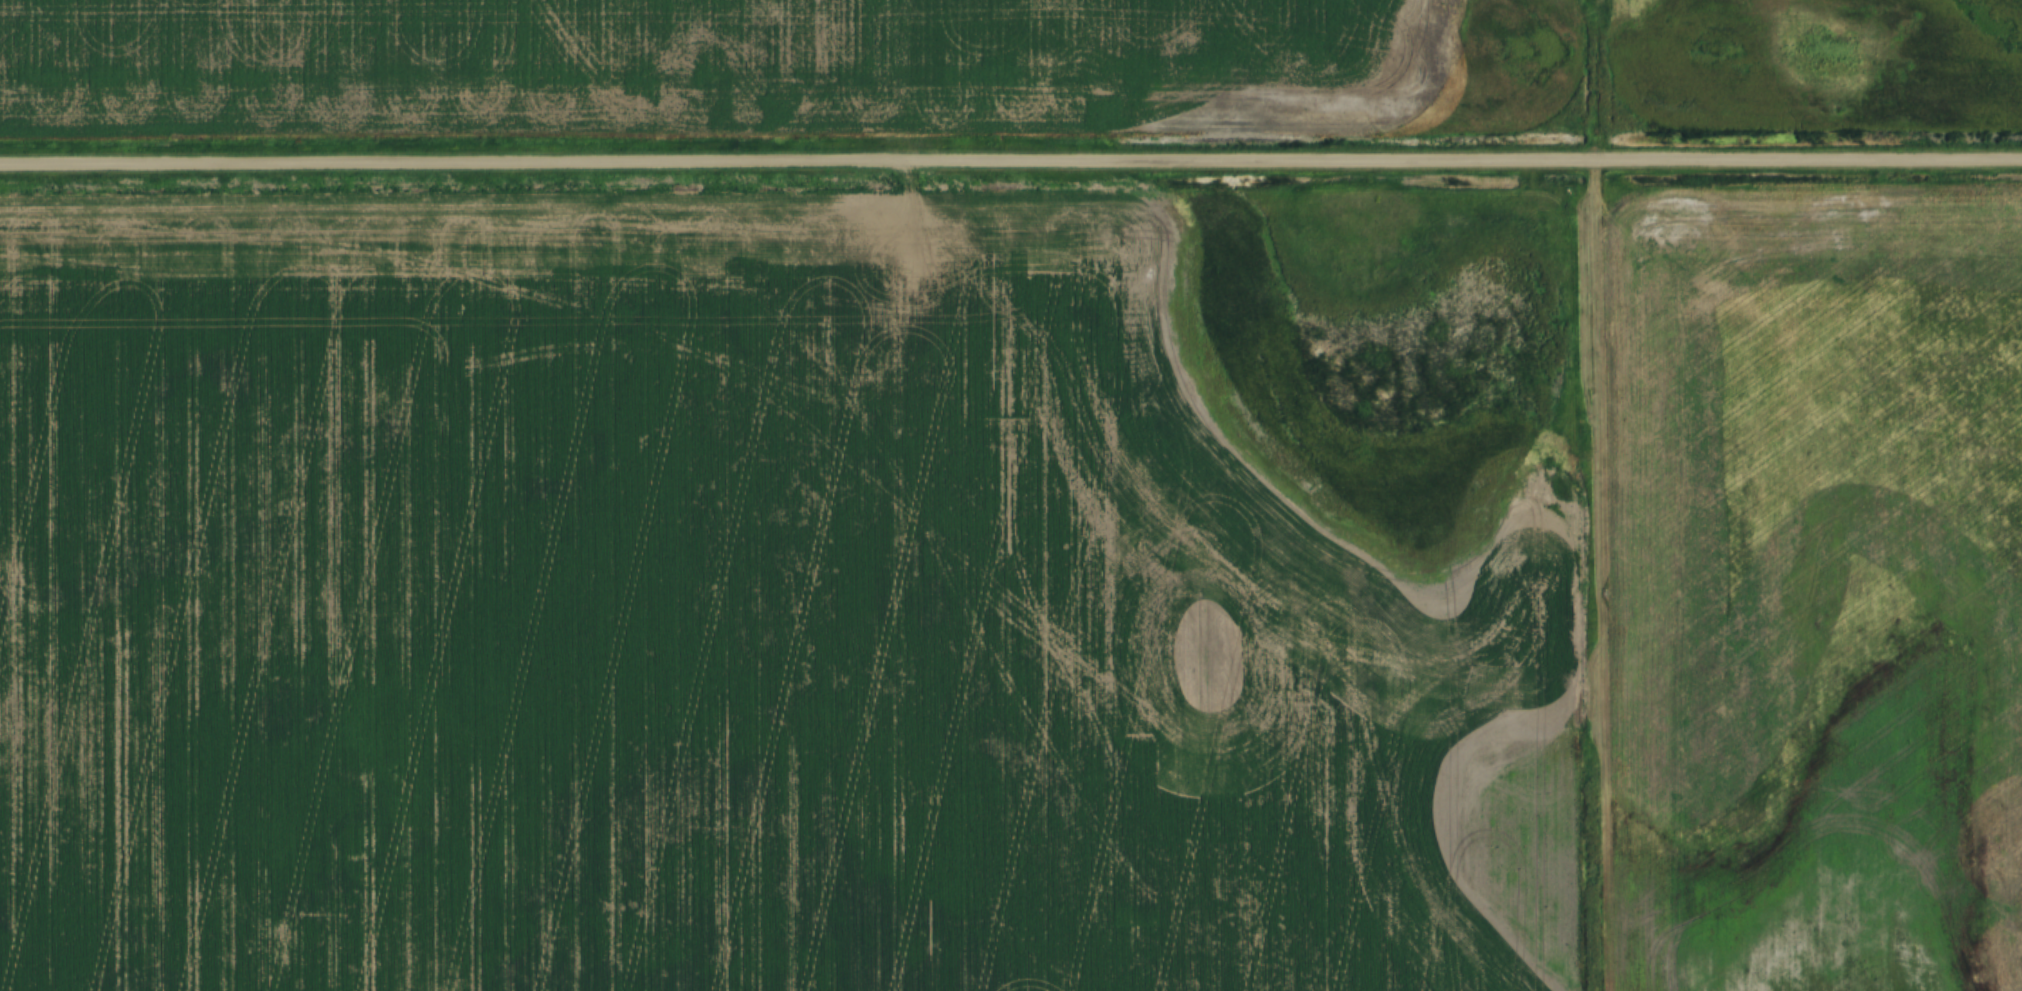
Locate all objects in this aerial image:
road: (1010, 165)

